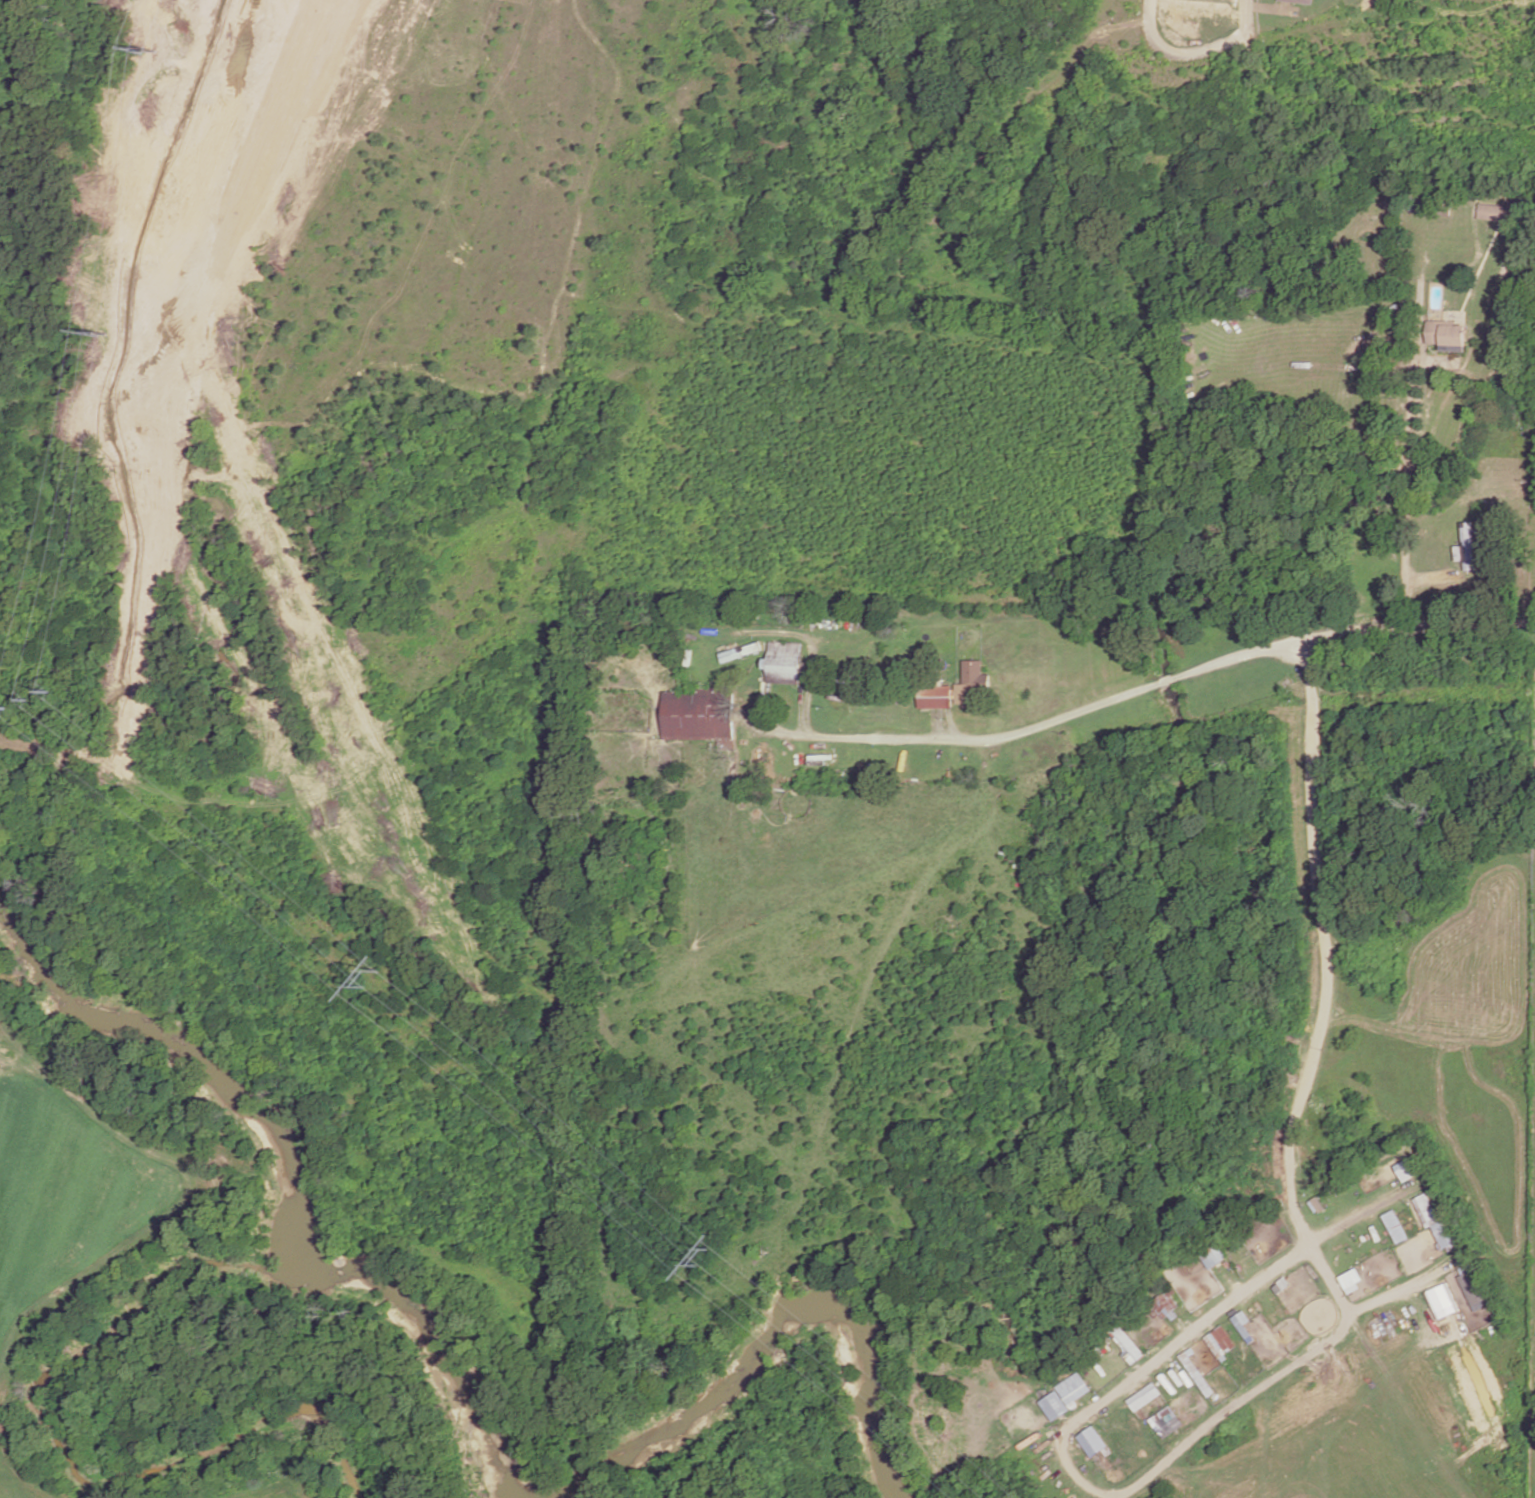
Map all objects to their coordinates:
building: (1300, 1)
road: (1242, 21)
power tower: (147, 51)
road: (1178, 51)
building: (1496, 211)
power tower: (101, 332)
building: (1447, 335)
road: (1404, 491)
building: (1467, 545)
road: (1413, 626)
building: (741, 651)
building: (784, 662)
building: (957, 688)
power tower: (30, 698)
building: (700, 714)
road: (1041, 722)
road: (1322, 948)
power tower: (368, 979)
building: (1406, 1168)
road: (1350, 1218)
building: (1434, 1221)
building: (1394, 1225)
building: (1213, 1256)
power tower: (704, 1258)
road: (1325, 1278)
building: (1350, 1279)
building: (1473, 1288)
building: (1440, 1300)
building: (1164, 1307)
building: (1243, 1325)
building: (1220, 1341)
building: (1126, 1342)
building: (1196, 1372)
building: (1065, 1395)
building: (1143, 1396)
building: (1165, 1421)
building: (1091, 1440)
road: (1115, 1492)

